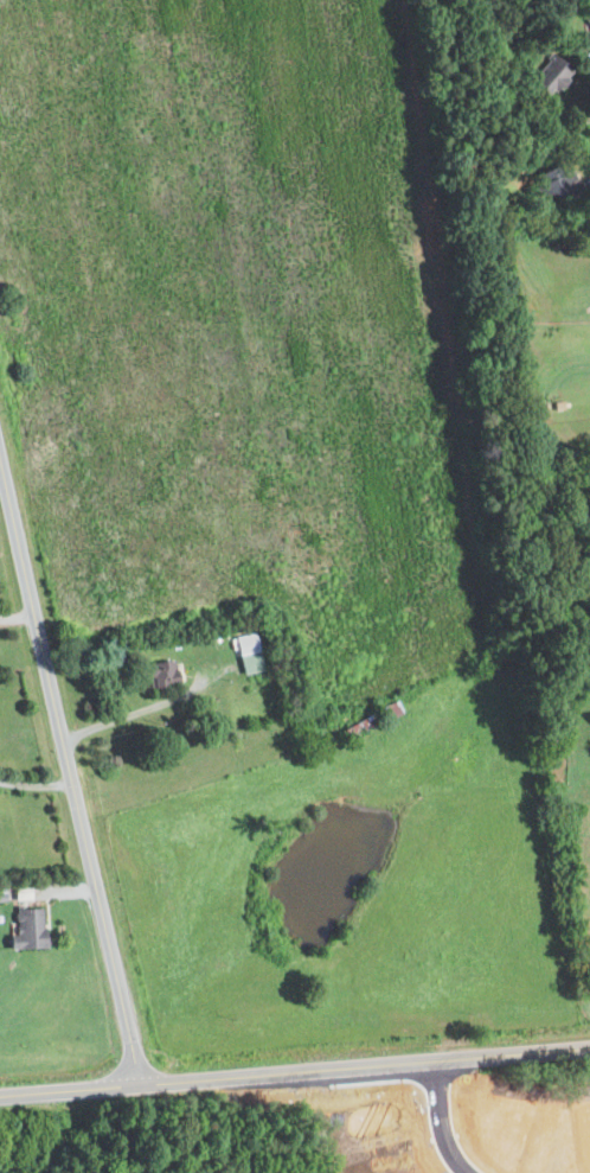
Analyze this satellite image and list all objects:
building: (588, 18)
building: (562, 179)
building: (249, 651)
building: (162, 672)
road: (139, 709)
building: (373, 719)
road: (66, 771)
road: (33, 783)
building: (30, 929)
road: (364, 1066)
road: (68, 1088)
building: (509, 1116)
road: (456, 1122)
building: (554, 1153)
building: (413, 1162)
park: (180, 1167)

